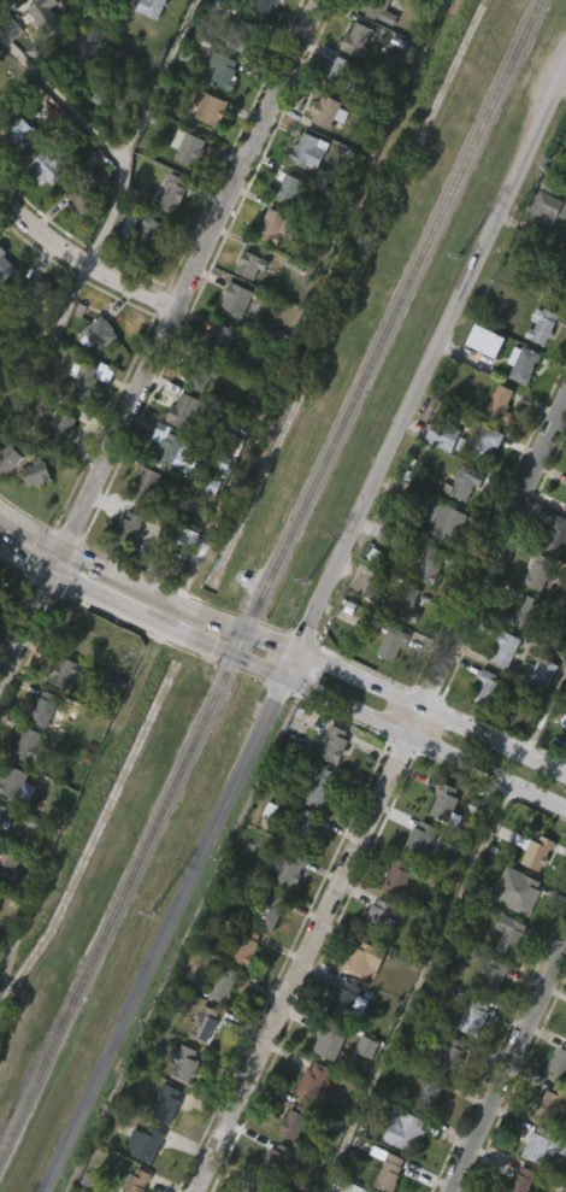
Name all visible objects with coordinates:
building: (276, 0)
building: (396, 0)
building: (261, 5)
building: (152, 7)
building: (234, 7)
building: (376, 8)
building: (11, 14)
building: (46, 17)
building: (241, 34)
building: (261, 39)
building: (355, 39)
building: (147, 46)
building: (366, 52)
building: (37, 53)
building: (6, 71)
building: (224, 71)
building: (240, 74)
building: (343, 77)
road: (61, 96)
building: (208, 108)
building: (325, 112)
building: (17, 135)
building: (187, 147)
building: (202, 151)
building: (311, 152)
building: (52, 159)
building: (14, 178)
building: (288, 189)
building: (184, 193)
road: (119, 195)
building: (302, 195)
building: (83, 196)
building: (170, 198)
building: (41, 210)
building: (562, 212)
building: (271, 225)
building: (148, 234)
building: (166, 239)
building: (72, 241)
building: (546, 249)
power tower: (458, 256)
road: (83, 259)
building: (248, 264)
building: (4, 265)
building: (119, 266)
building: (265, 269)
building: (143, 275)
building: (555, 283)
road: (187, 288)
building: (19, 294)
building: (236, 299)
building: (244, 309)
building: (4, 310)
building: (556, 323)
building: (541, 327)
building: (101, 333)
building: (28, 336)
building: (219, 337)
building: (482, 340)
building: (526, 365)
building: (200, 374)
building: (212, 378)
building: (87, 382)
building: (479, 383)
building: (501, 406)
building: (515, 407)
building: (182, 412)
building: (83, 424)
building: (61, 427)
building: (442, 435)
building: (485, 438)
building: (165, 448)
building: (11, 458)
building: (34, 471)
building: (55, 471)
building: (435, 478)
building: (462, 482)
building: (149, 483)
building: (480, 486)
building: (170, 497)
building: (6, 499)
building: (564, 500)
building: (30, 515)
building: (212, 515)
building: (443, 522)
building: (460, 525)
building: (141, 528)
building: (124, 529)
building: (556, 534)
building: (395, 536)
road: (493, 547)
road: (25, 559)
building: (429, 565)
building: (122, 572)
building: (171, 577)
railway: (273, 579)
road: (120, 580)
building: (546, 580)
power tower: (307, 583)
building: (376, 587)
building: (406, 605)
building: (424, 607)
building: (526, 613)
road: (146, 616)
road: (26, 633)
building: (77, 633)
building: (367, 635)
road: (303, 639)
building: (391, 644)
building: (403, 646)
building: (503, 648)
building: (519, 656)
building: (67, 671)
building: (542, 671)
building: (387, 687)
building: (489, 688)
building: (499, 692)
road: (408, 697)
building: (45, 707)
building: (59, 715)
building: (536, 716)
road: (413, 720)
building: (480, 732)
building: (564, 734)
road: (400, 735)
building: (336, 744)
building: (30, 746)
building: (13, 782)
building: (318, 789)
building: (443, 804)
building: (2, 811)
building: (305, 828)
building: (316, 828)
building: (420, 839)
building: (438, 845)
building: (468, 849)
building: (0, 850)
building: (537, 851)
building: (264, 852)
building: (287, 868)
building: (302, 868)
building: (400, 879)
building: (414, 881)
building: (526, 896)
building: (271, 910)
power tower: (148, 917)
building: (381, 917)
building: (511, 935)
building: (247, 947)
building: (265, 953)
building: (365, 959)
road: (302, 964)
building: (494, 976)
building: (225, 985)
building: (240, 990)
building: (343, 998)
building: (359, 1002)
building: (473, 1016)
building: (488, 1016)
building: (206, 1024)
building: (217, 1028)
building: (328, 1040)
building: (341, 1041)
building: (558, 1053)
building: (449, 1056)
building: (467, 1062)
building: (185, 1063)
building: (197, 1067)
road: (508, 1070)
building: (311, 1080)
building: (323, 1086)
building: (360, 1088)
building: (426, 1091)
building: (446, 1097)
building: (169, 1100)
building: (549, 1103)
building: (295, 1121)
building: (311, 1123)
building: (403, 1129)
building: (135, 1135)
building: (421, 1137)
building: (540, 1140)
building: (161, 1146)
building: (275, 1161)
building: (288, 1164)
building: (390, 1173)
building: (523, 1180)
building: (135, 1181)
building: (264, 1187)
building: (369, 1191)

